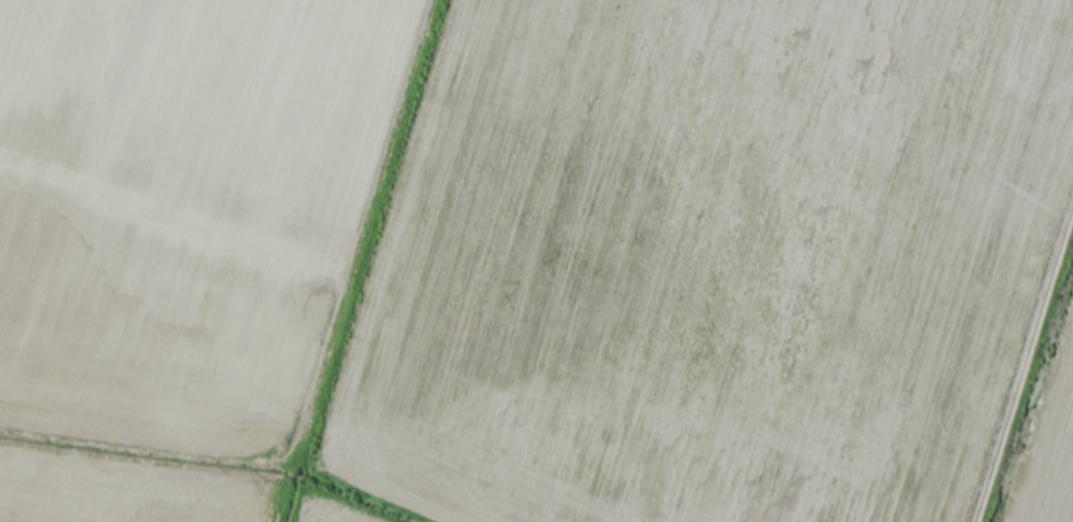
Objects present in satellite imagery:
road: (1021, 363)

